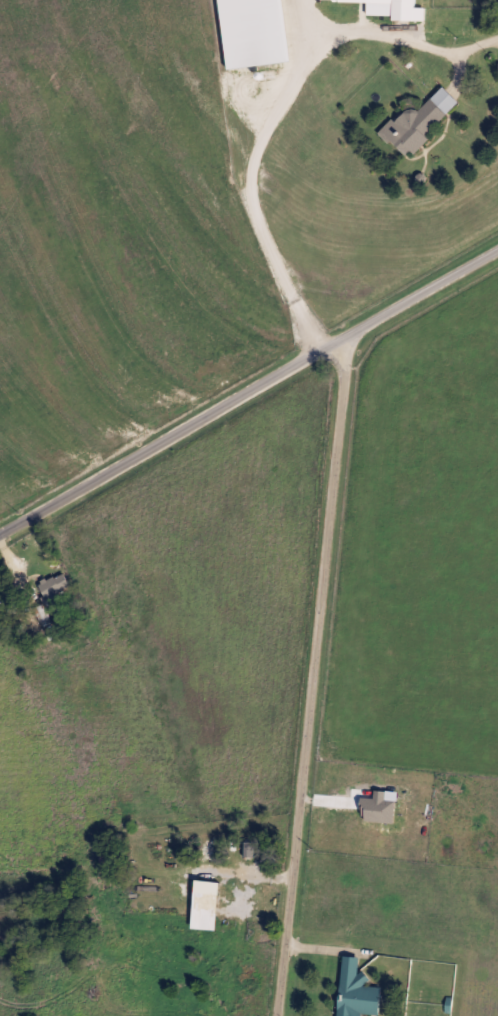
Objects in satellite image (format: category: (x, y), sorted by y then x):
building: (390, 8)
building: (249, 34)
road: (279, 112)
building: (418, 123)
road: (249, 392)
road: (17, 567)
building: (55, 584)
road: (313, 675)
building: (109, 858)
building: (357, 991)

